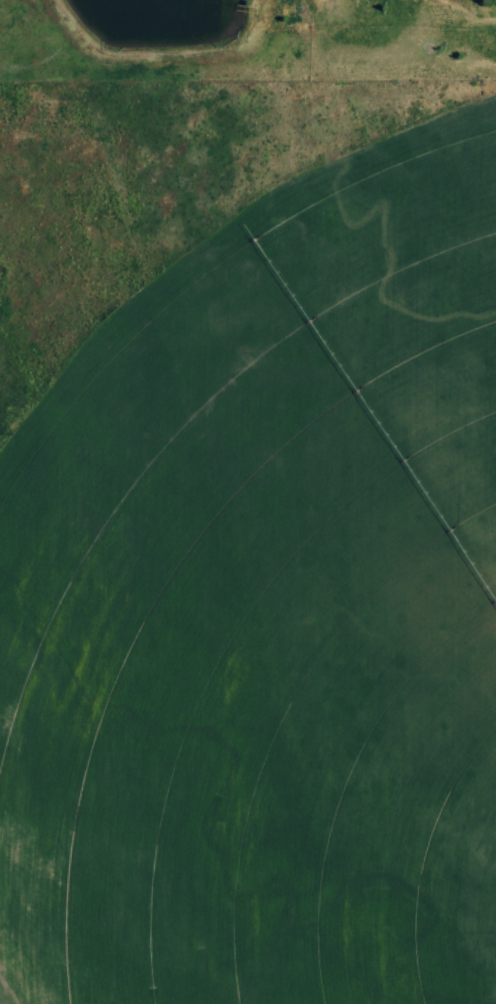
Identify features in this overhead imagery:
crop: (251, 51)
crop: (247, 553)

